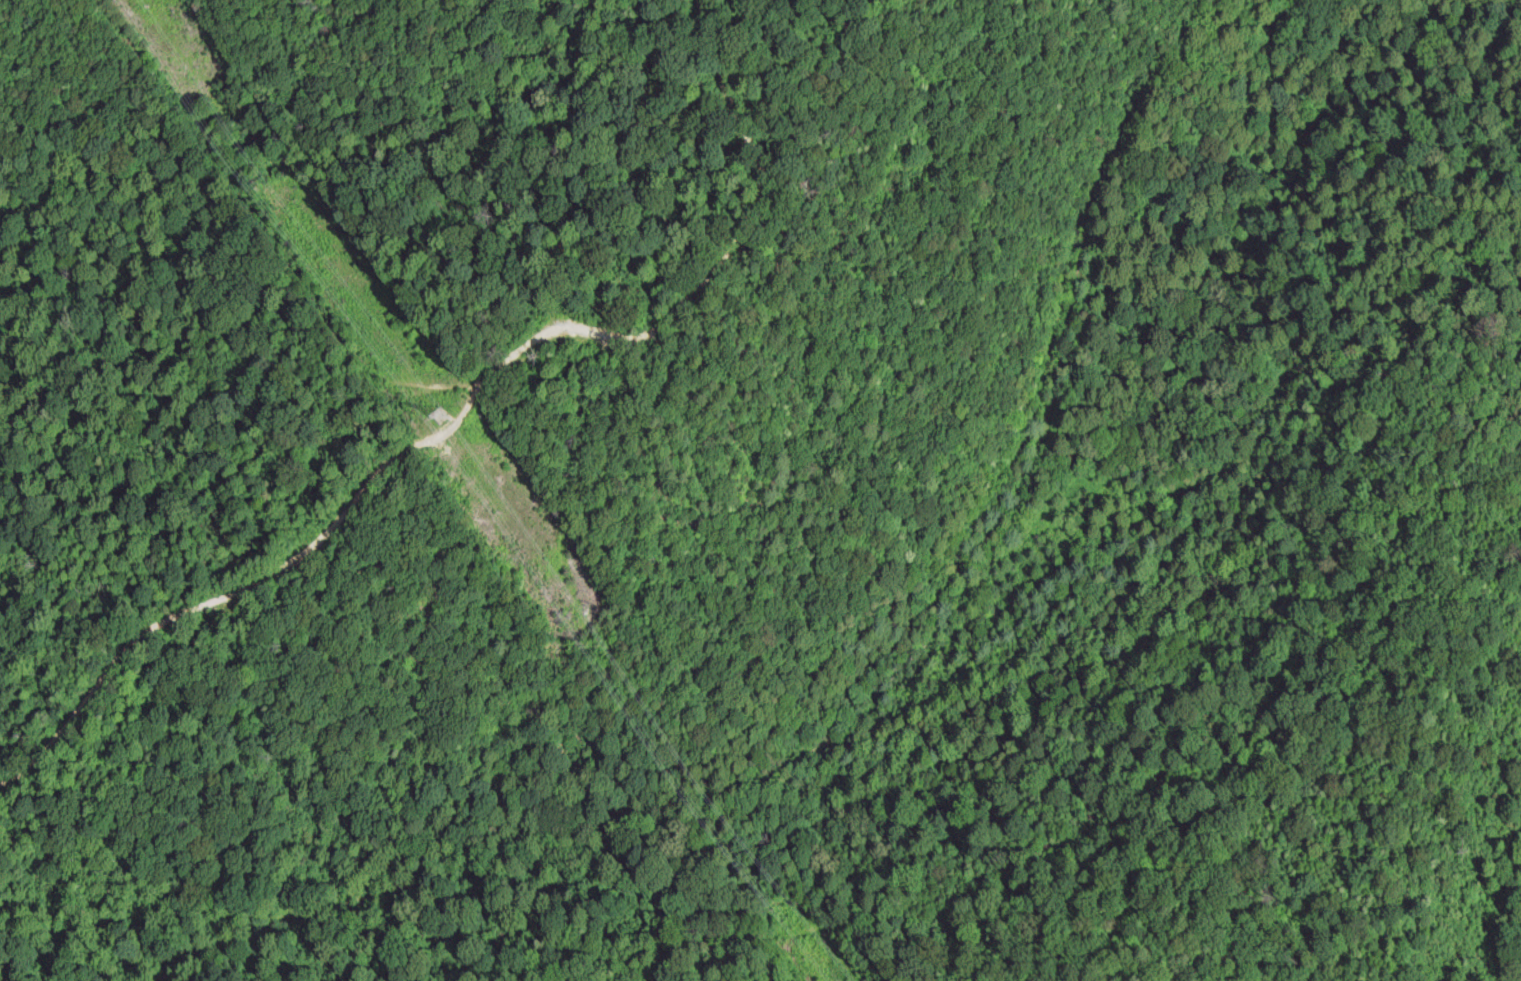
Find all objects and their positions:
road: (1008, 506)

